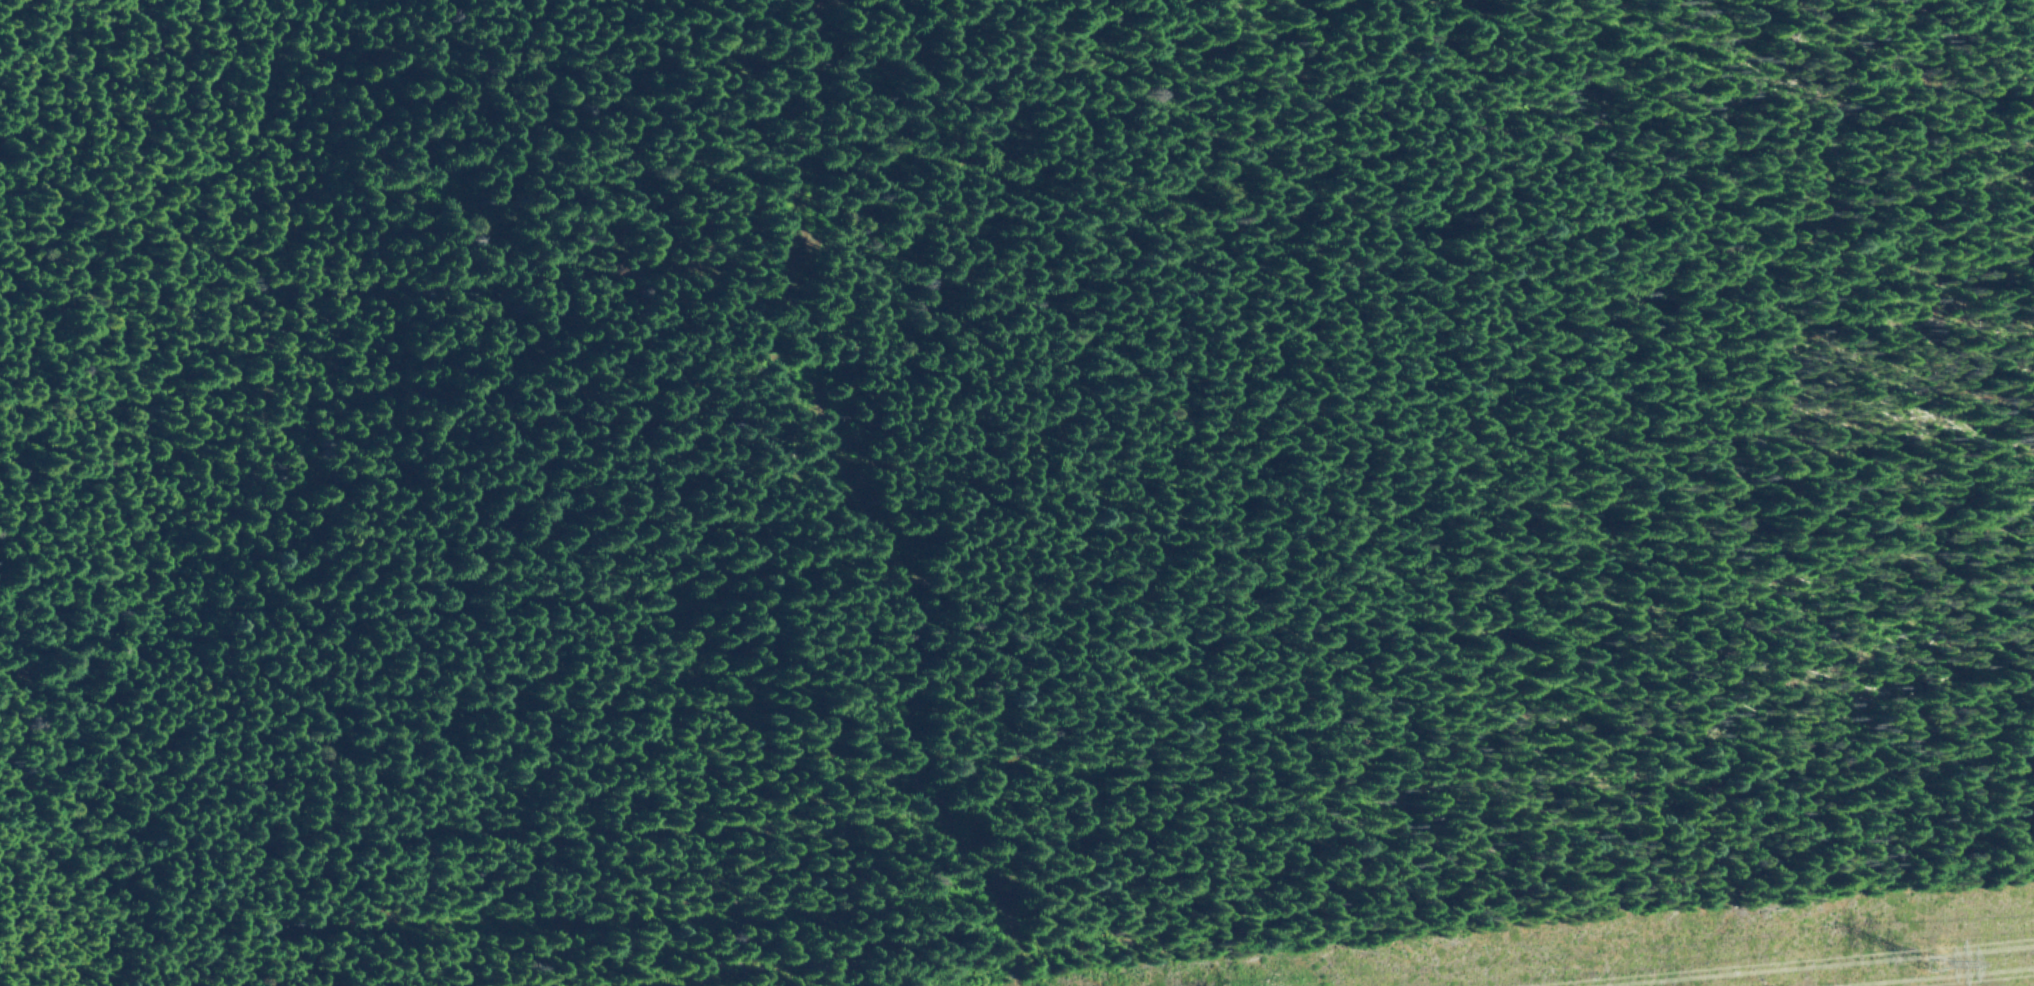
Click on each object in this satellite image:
power tower: (1926, 957)

